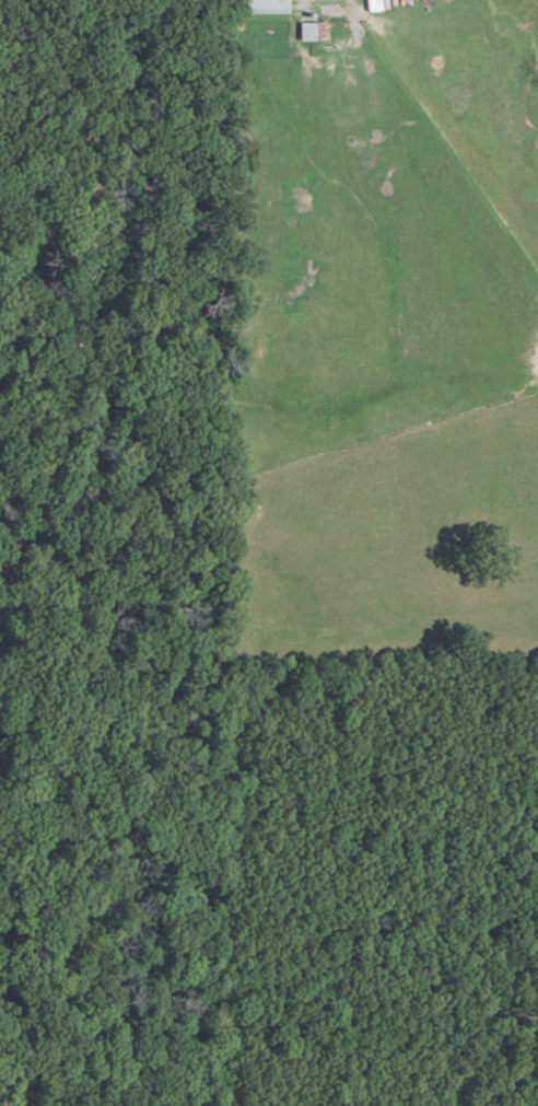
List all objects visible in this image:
building: (265, 5)
building: (371, 5)
building: (309, 32)
road: (96, 289)

